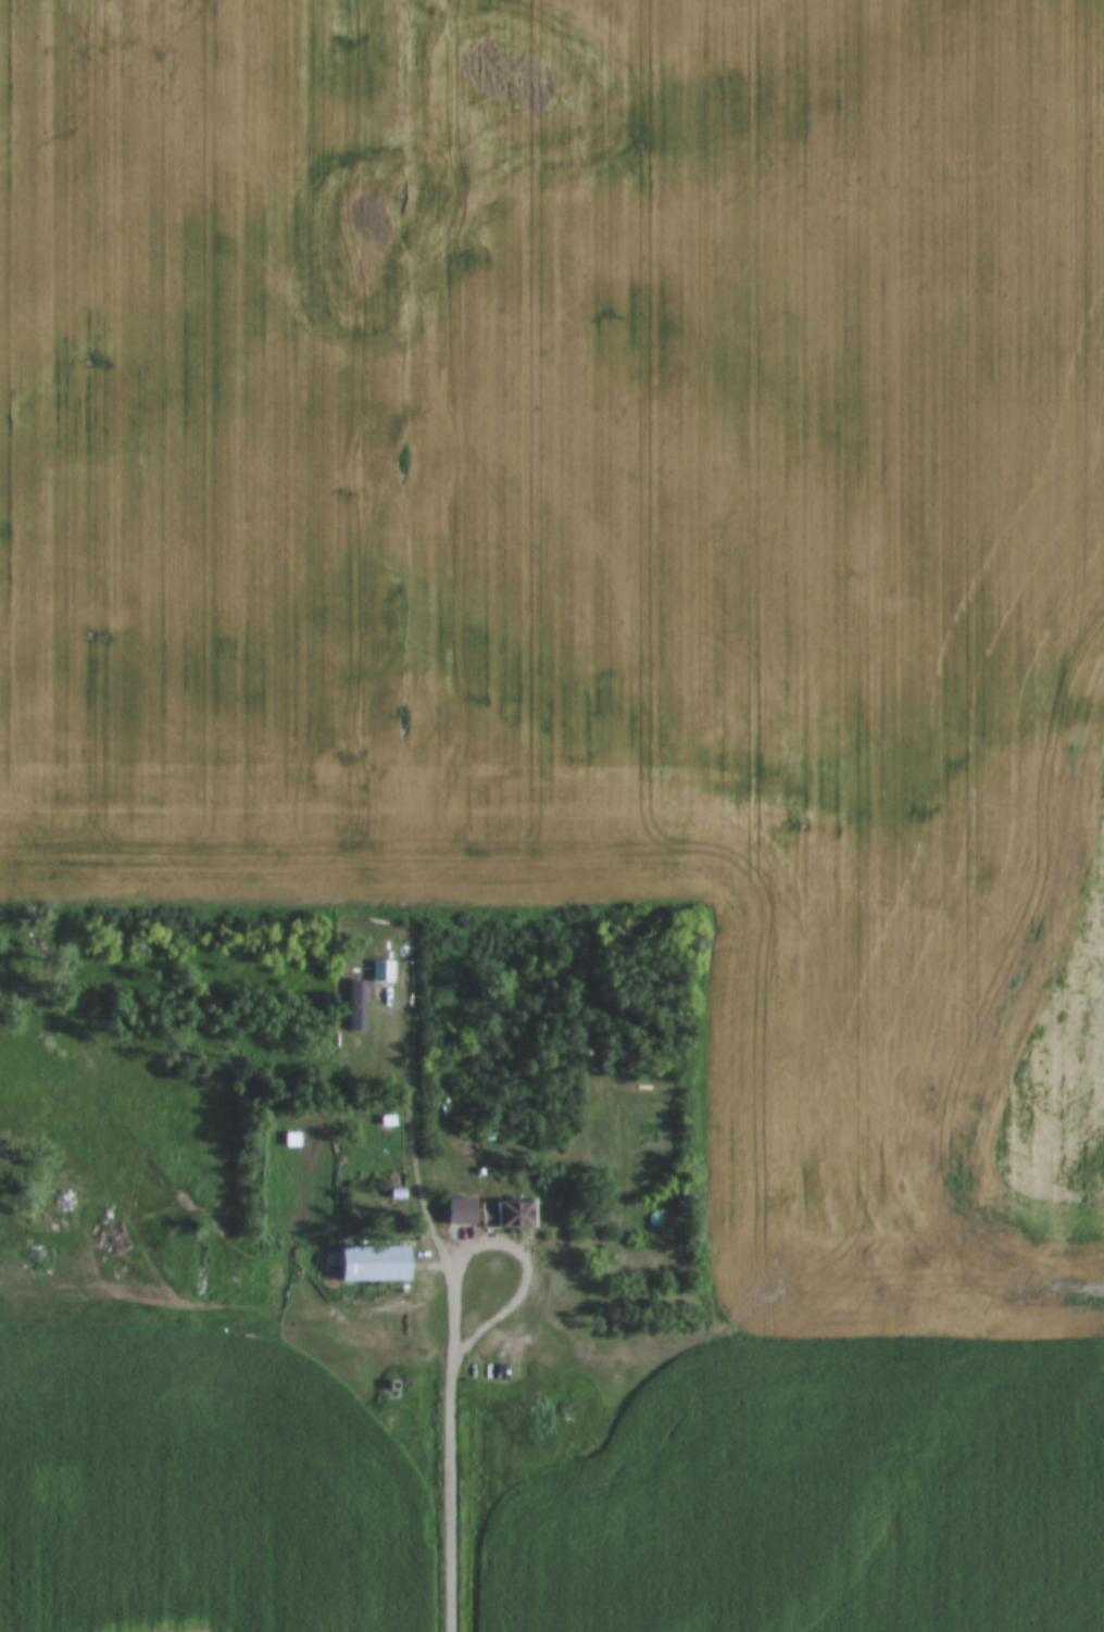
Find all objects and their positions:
road: (205, 1207)
building: (510, 1215)
road: (514, 1241)
building: (376, 1264)
road: (818, 1268)
building: (393, 1385)
building: (543, 1420)
road: (450, 1486)

